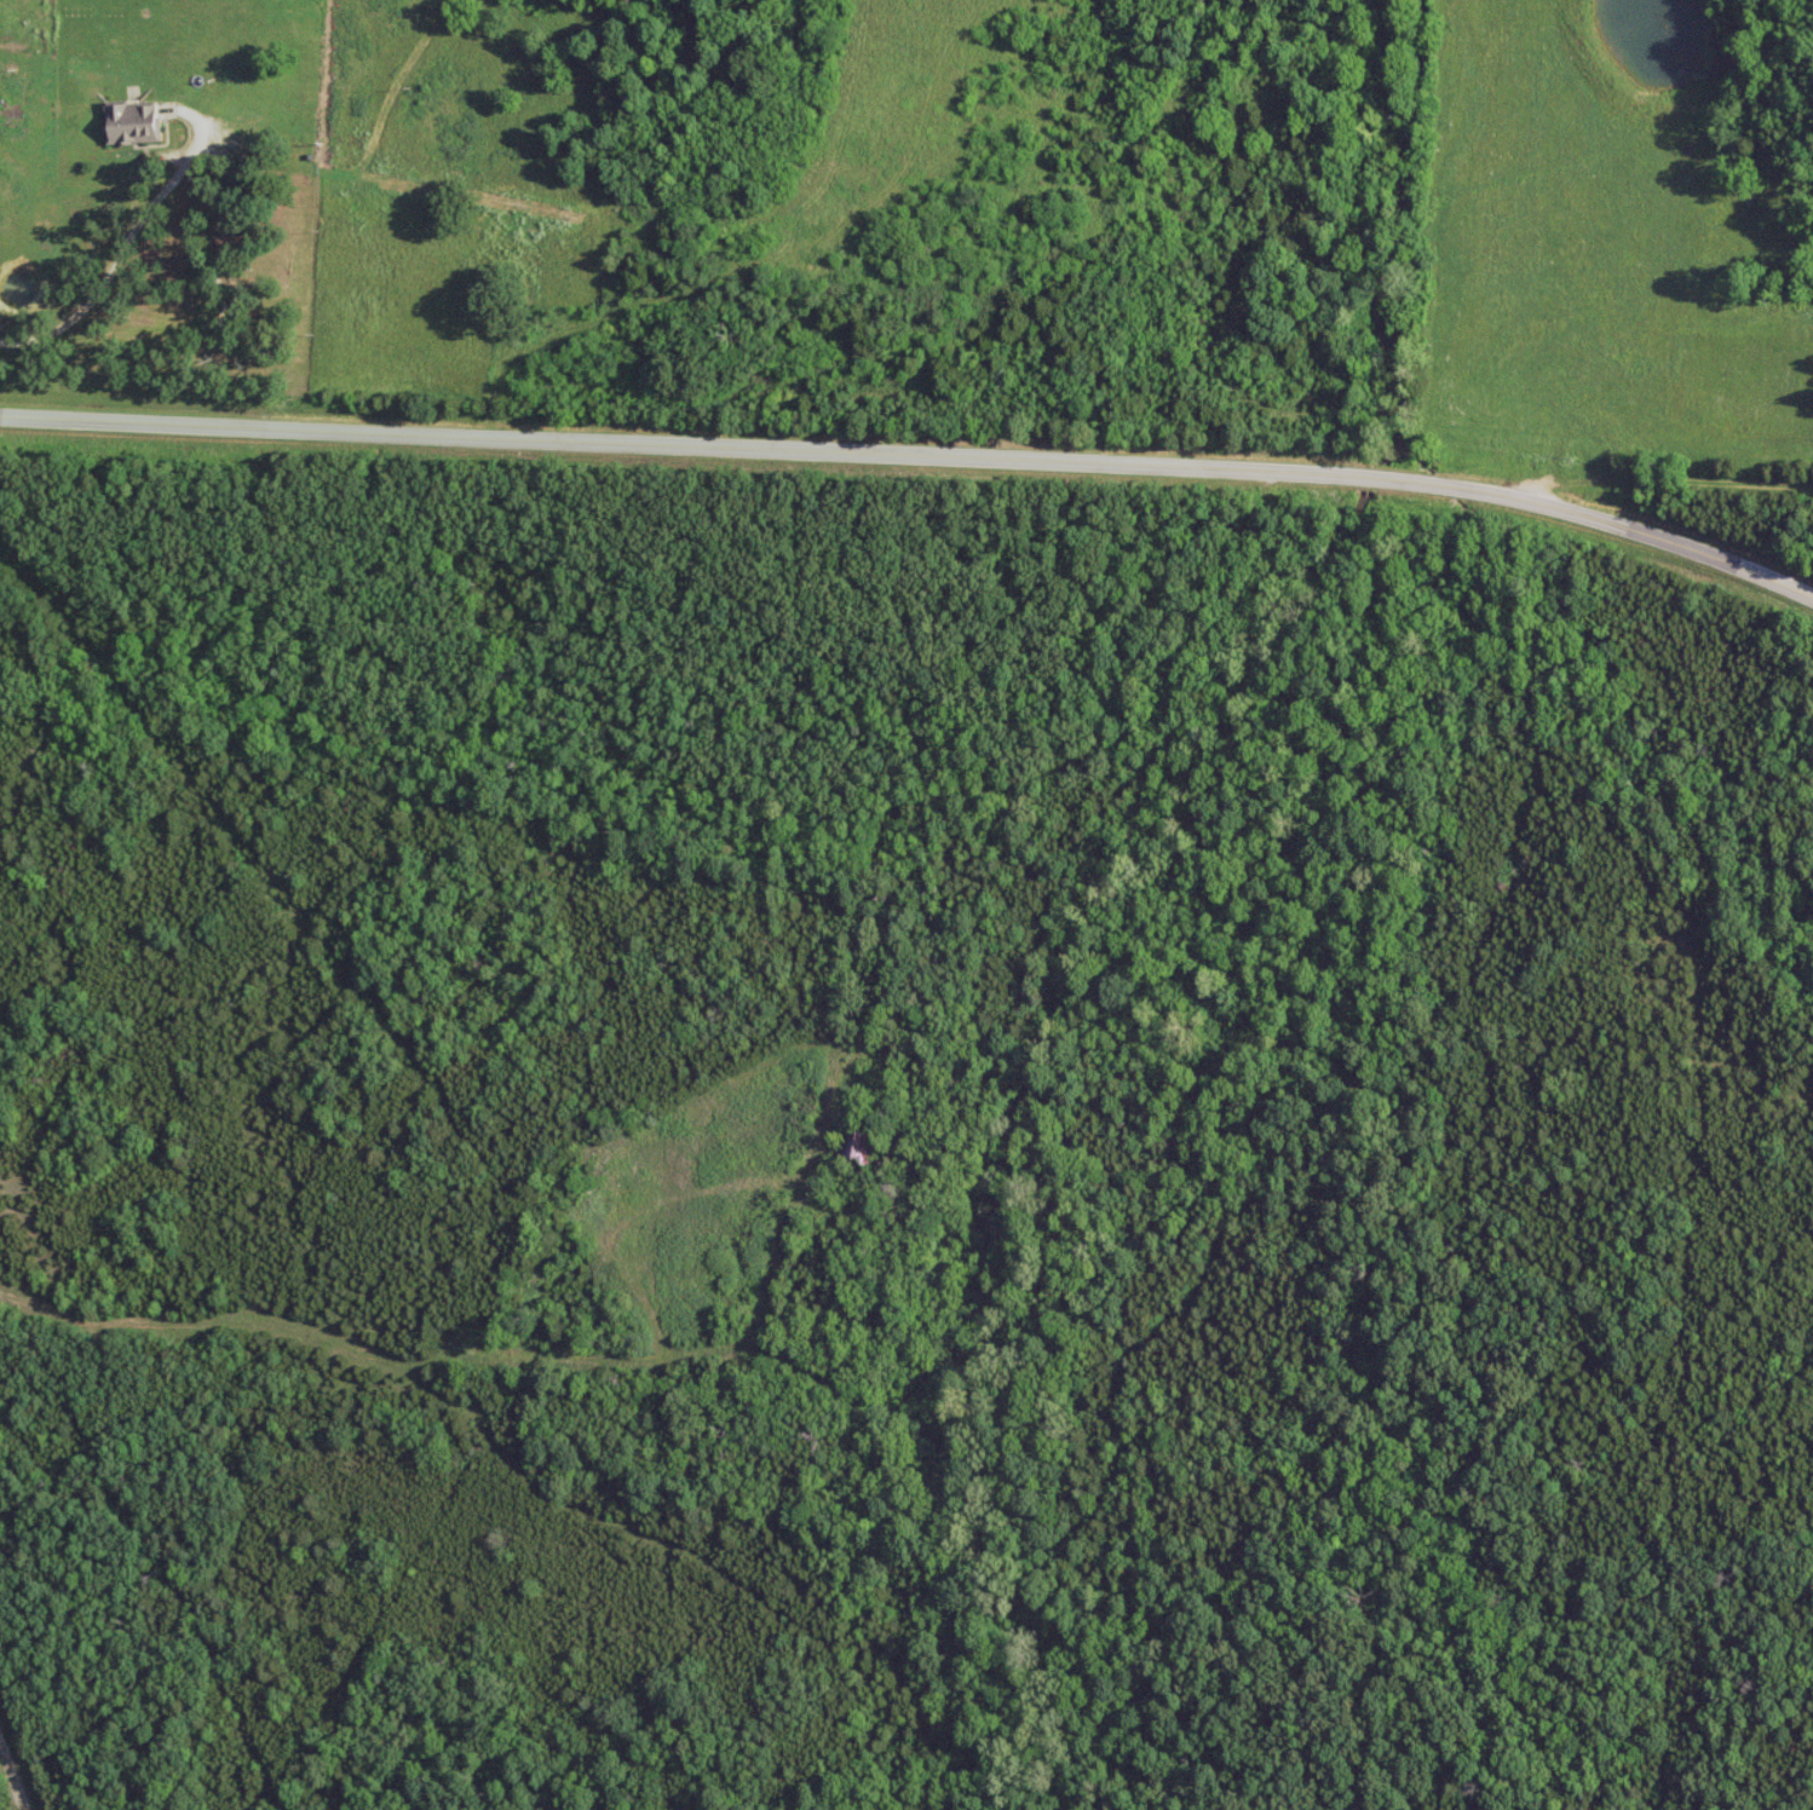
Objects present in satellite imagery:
building: (139, 123)
road: (122, 243)
road: (628, 444)
road: (1342, 479)
road: (1625, 528)
road: (899, 889)
building: (874, 1151)

